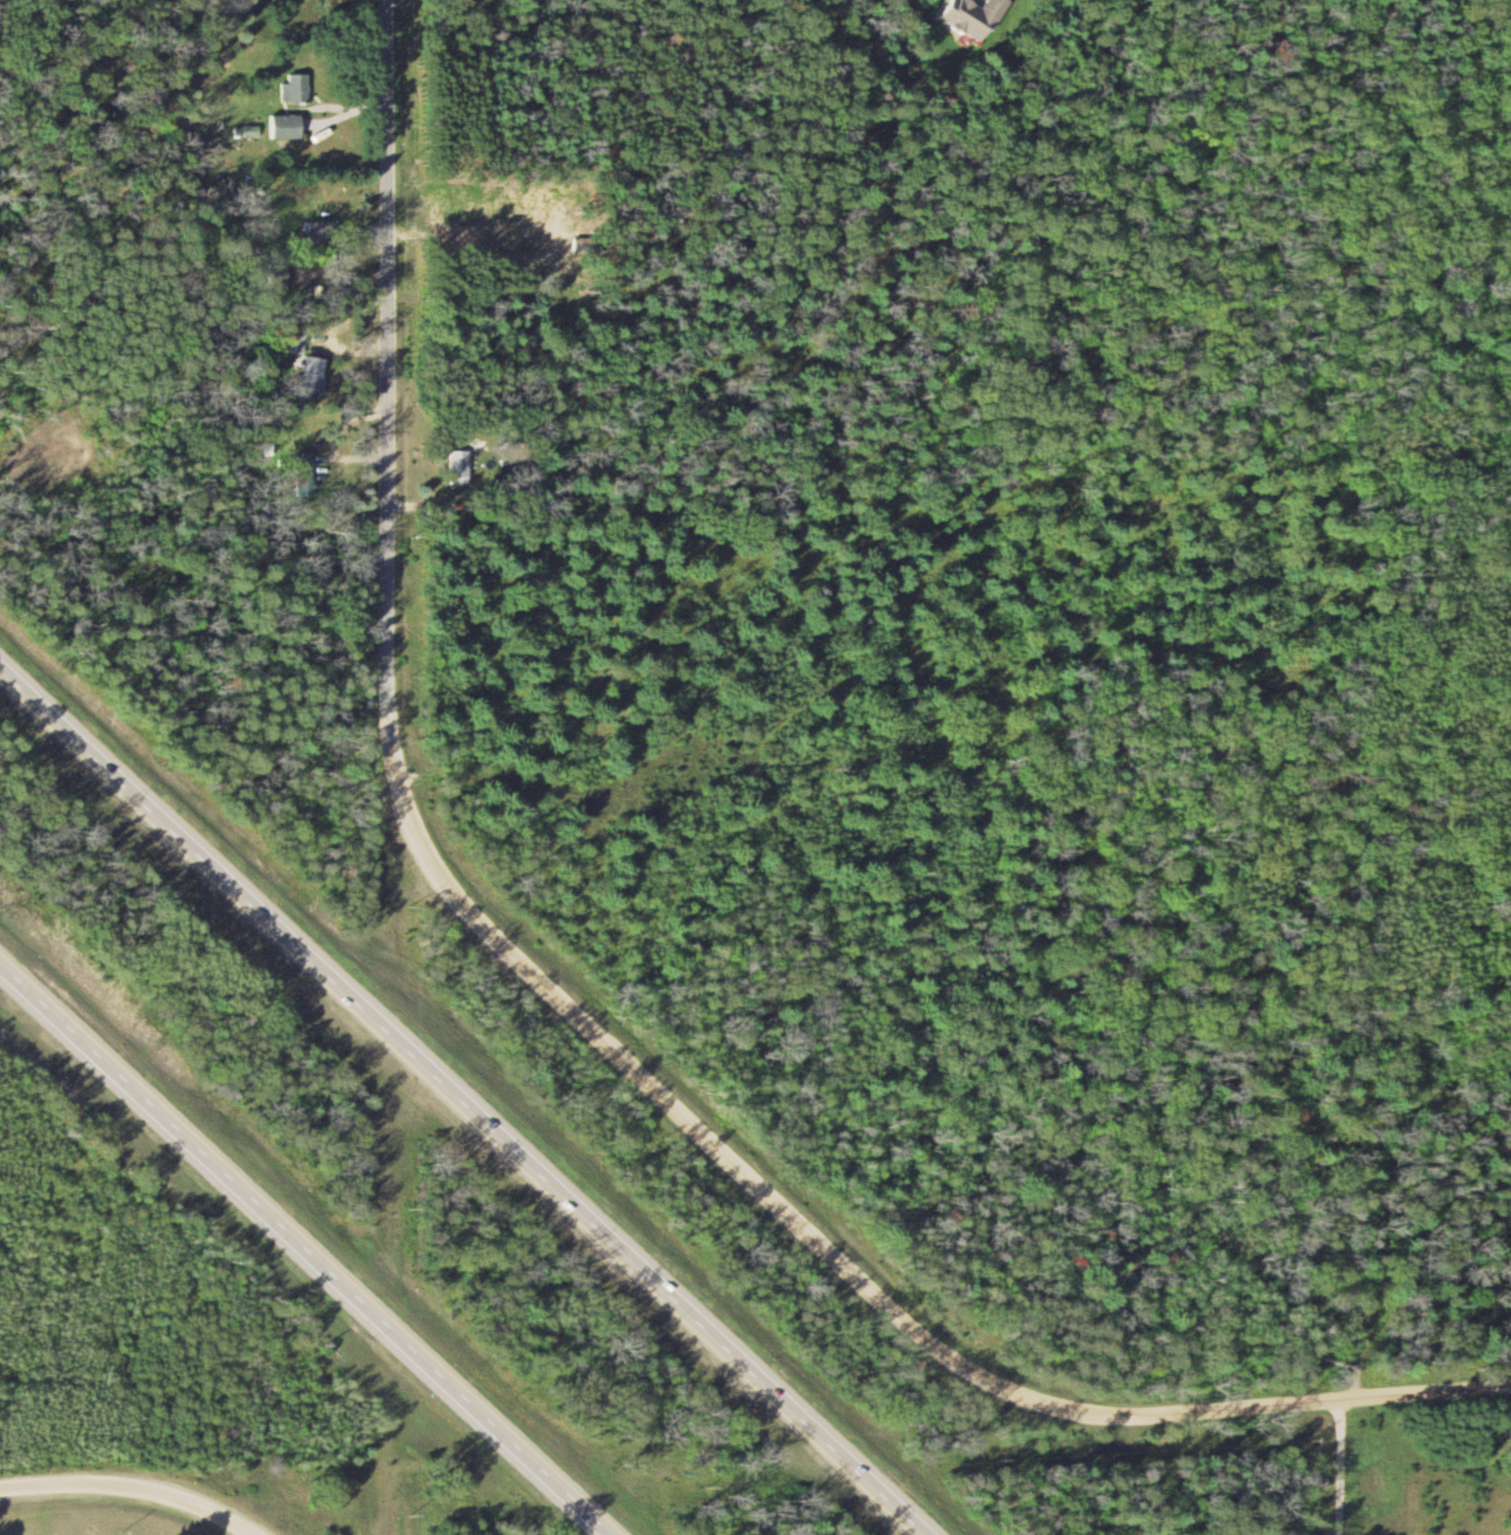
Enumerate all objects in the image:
building: (975, 17)
building: (296, 87)
building: (295, 340)
building: (317, 374)
road: (388, 397)
building: (462, 461)
building: (307, 472)
road: (436, 870)
road: (462, 1098)
road: (744, 1173)
road: (307, 1246)
road: (1260, 1404)
building: (1499, 1435)
road: (1340, 1467)
road: (133, 1487)

